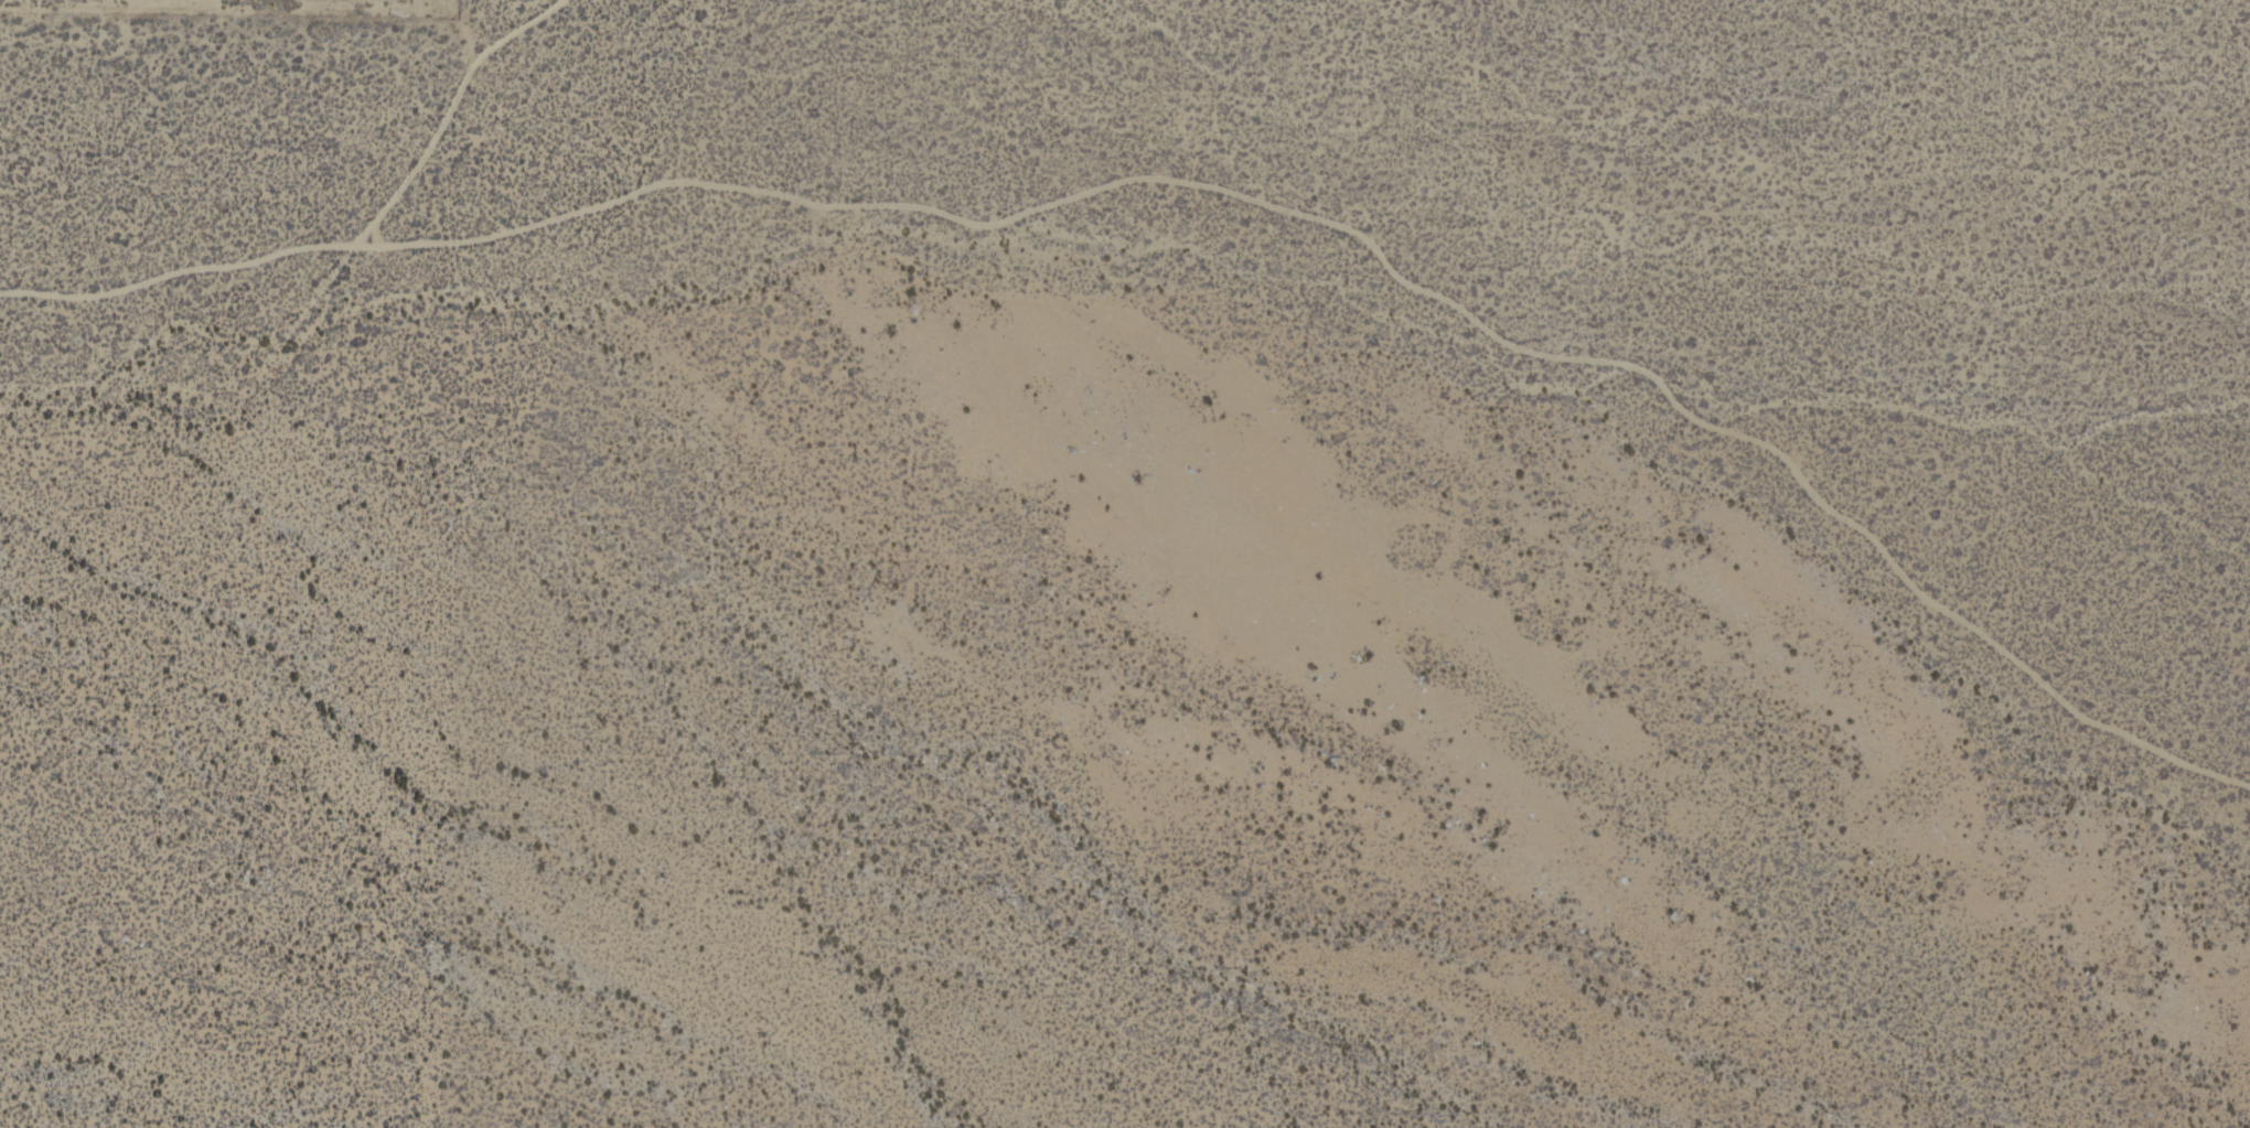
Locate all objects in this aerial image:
road: (223, 11)
road: (451, 111)
road: (1203, 194)

